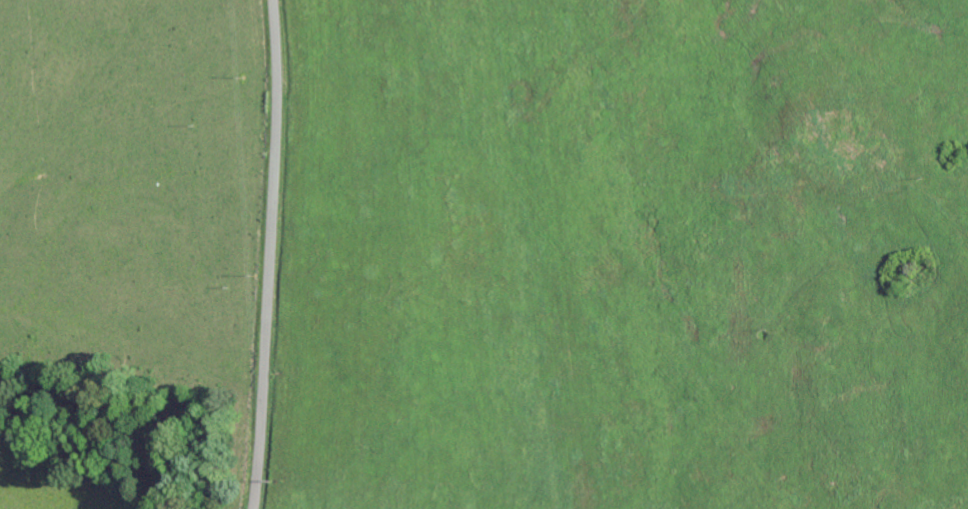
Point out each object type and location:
road: (271, 254)

